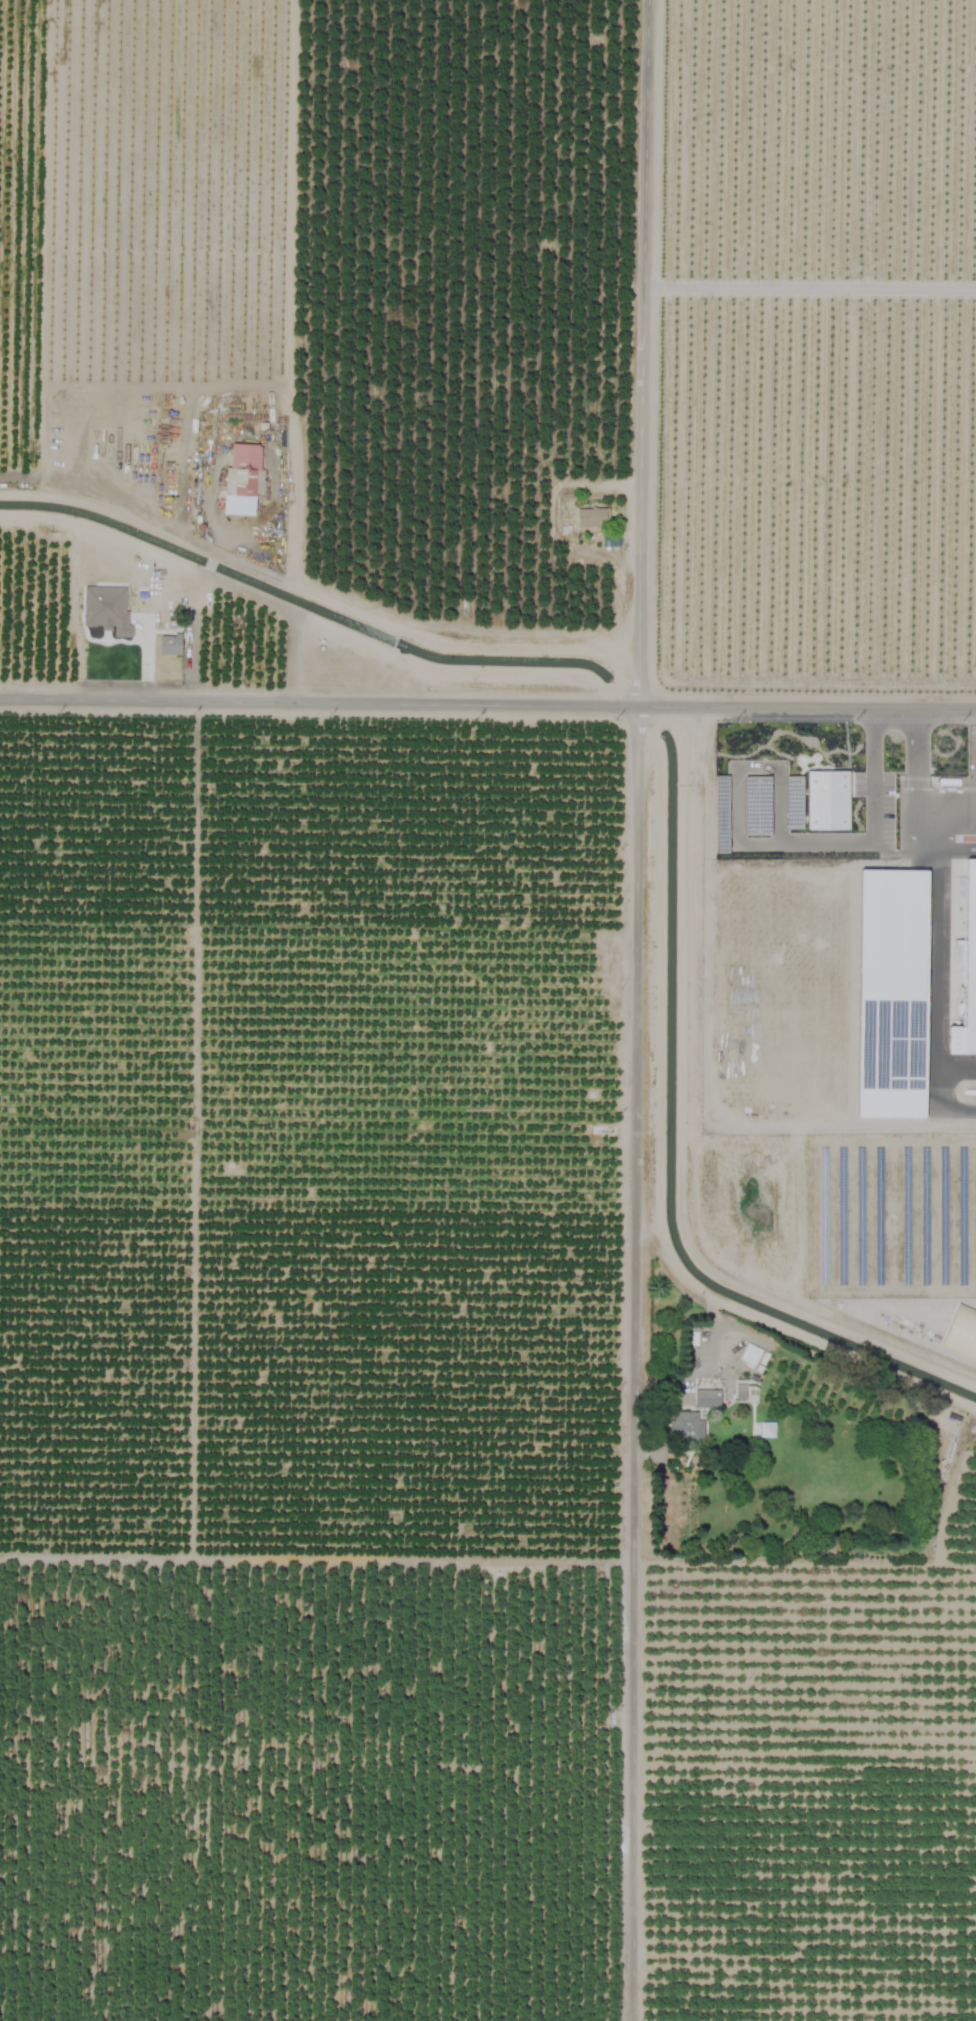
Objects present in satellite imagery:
road: (810, 289)
road: (643, 396)
building: (242, 479)
building: (592, 517)
building: (105, 610)
building: (169, 644)
road: (972, 687)
road: (488, 701)
road: (915, 782)
building: (826, 800)
road: (782, 843)
building: (967, 973)
building: (888, 989)
crop: (488, 1010)
building: (961, 1333)
building: (749, 1354)
road: (634, 1361)
building: (706, 1398)
building: (685, 1427)
building: (766, 1429)

